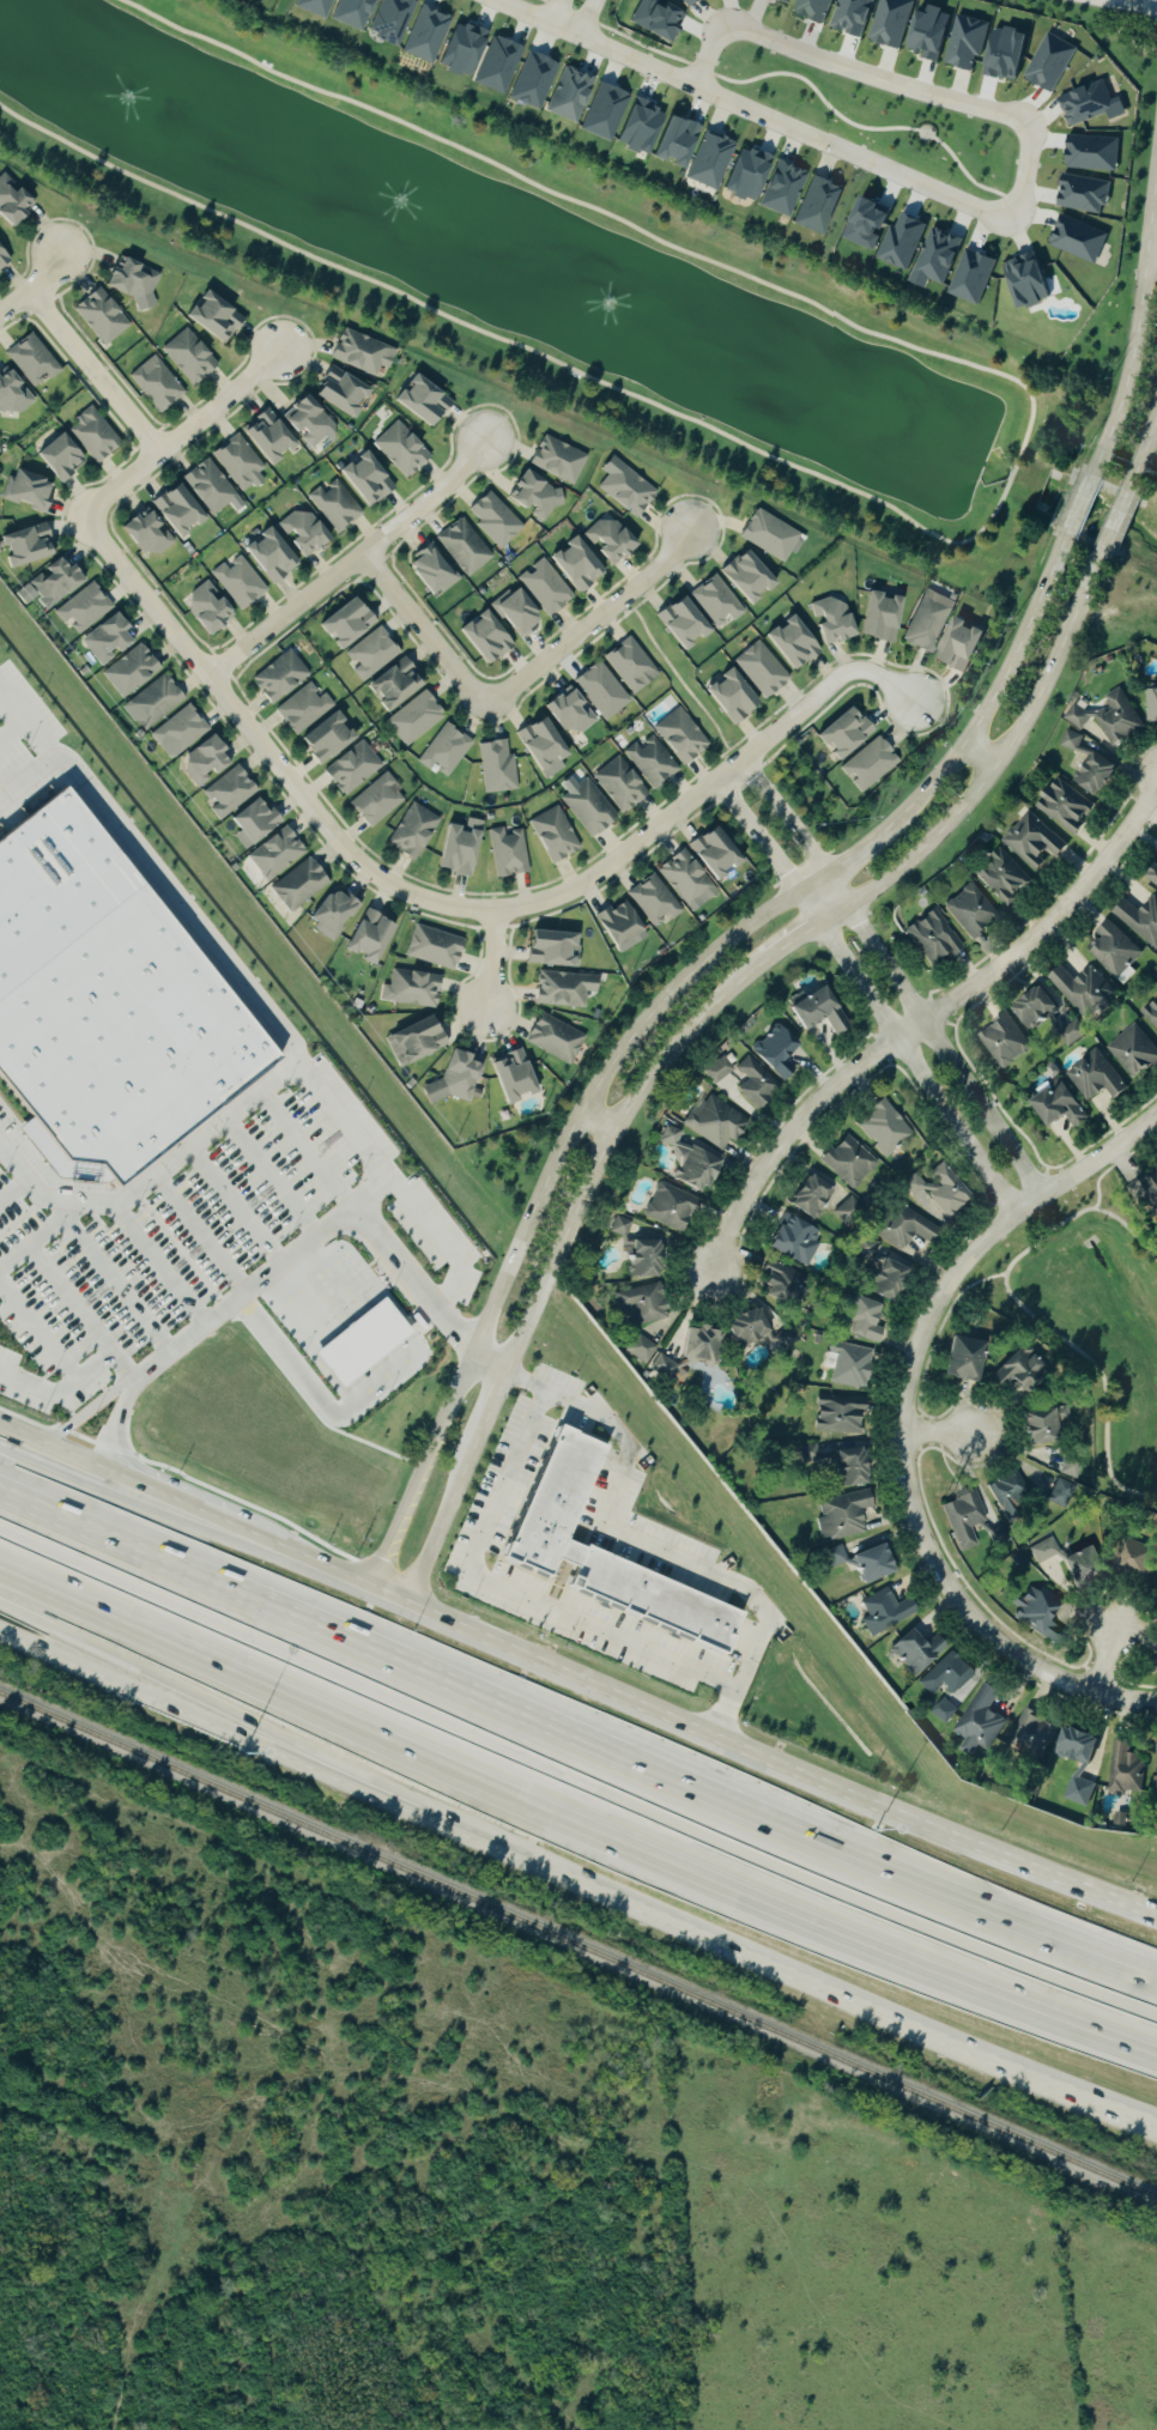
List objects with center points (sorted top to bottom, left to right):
building: (693, 1)
road: (1138, 4)
building: (321, 6)
building: (816, 8)
building: (359, 12)
road: (557, 12)
building: (858, 16)
road: (588, 18)
building: (664, 19)
building: (396, 20)
building: (896, 22)
building: (939, 34)
building: (432, 35)
building: (973, 42)
road: (595, 43)
building: (1013, 55)
building: (489, 57)
building: (1054, 62)
building: (540, 80)
fountain: (128, 90)
building: (577, 95)
building: (1090, 103)
building: (611, 111)
building: (650, 129)
building: (703, 152)
road: (1029, 152)
building: (1094, 152)
building: (773, 182)
building: (1086, 194)
building: (17, 202)
fountain: (399, 202)
building: (824, 205)
building: (873, 224)
building: (1078, 238)
building: (908, 242)
road: (1152, 247)
building: (5, 257)
building: (941, 257)
building: (975, 277)
building: (140, 281)
building: (1035, 281)
road: (32, 286)
fountain: (619, 315)
building: (107, 316)
building: (224, 319)
road: (1135, 320)
building: (368, 352)
building: (194, 357)
building: (38, 360)
road: (95, 371)
building: (162, 384)
building: (349, 392)
building: (16, 394)
building: (434, 402)
road: (1156, 406)
building: (314, 422)
road: (183, 435)
building: (99, 436)
building: (275, 437)
road: (1141, 444)
building: (406, 449)
building: (60, 456)
building: (563, 460)
building: (244, 463)
building: (374, 479)
building: (631, 486)
building: (213, 487)
building: (35, 492)
building: (540, 495)
road: (1079, 503)
road: (999, 504)
building: (339, 505)
building: (186, 510)
building: (499, 520)
road: (1115, 520)
building: (310, 533)
building: (155, 535)
building: (775, 535)
building: (617, 540)
building: (470, 547)
building: (279, 556)
road: (351, 563)
building: (586, 565)
building: (438, 569)
building: (756, 578)
building: (244, 583)
building: (59, 584)
building: (551, 588)
building: (721, 601)
building: (89, 608)
building: (217, 610)
building: (523, 612)
building: (891, 618)
building: (934, 622)
building: (692, 623)
building: (840, 623)
building: (115, 640)
building: (368, 640)
building: (496, 640)
building: (802, 644)
building: (969, 646)
building: (631, 663)
building: (767, 669)
building: (137, 671)
road: (516, 683)
building: (396, 687)
building: (604, 690)
building: (295, 692)
building: (734, 696)
building: (155, 702)
building: (1150, 705)
building: (568, 710)
building: (1110, 717)
building: (414, 719)
building: (177, 731)
building: (841, 732)
road: (13, 734)
building: (679, 735)
building: (323, 738)
building: (1071, 740)
building: (540, 746)
road: (265, 747)
building: (443, 750)
road: (981, 752)
building: (202, 760)
building: (649, 760)
building: (867, 764)
building: (496, 766)
building: (351, 768)
building: (1089, 770)
road: (26, 778)
building: (618, 783)
road: (711, 784)
building: (226, 792)
building: (376, 799)
building: (586, 805)
building: (1061, 806)
road: (787, 816)
building: (250, 822)
building: (412, 830)
building: (552, 834)
road: (759, 836)
building: (1030, 841)
building: (456, 847)
building: (507, 852)
building: (274, 853)
building: (711, 853)
building: (1150, 875)
building: (999, 878)
building: (684, 880)
building: (297, 885)
building: (653, 899)
building: (967, 911)
building: (331, 914)
building: (1139, 920)
building: (619, 927)
building: (367, 937)
building: (928, 938)
building: (432, 946)
building: (550, 949)
building: (1109, 951)
road: (212, 953)
road: (495, 958)
building: (412, 988)
building: (562, 988)
building: (1079, 989)
building: (105, 1004)
building: (1031, 1008)
building: (818, 1010)
road: (658, 1012)
building: (1150, 1013)
road: (921, 1022)
road: (695, 1026)
building: (1070, 1034)
road: (934, 1035)
building: (553, 1037)
building: (413, 1041)
building: (1001, 1042)
building: (776, 1050)
road: (909, 1052)
building: (1132, 1052)
building: (719, 1068)
building: (513, 1075)
building: (1092, 1077)
building: (453, 1079)
building: (756, 1083)
building: (1054, 1105)
building: (503, 1114)
road: (602, 1117)
building: (716, 1122)
building: (882, 1128)
building: (667, 1135)
road: (1, 1143)
road: (189, 1147)
road: (305, 1151)
building: (846, 1162)
building: (687, 1165)
road: (272, 1177)
road: (32, 1180)
building: (937, 1189)
road: (16, 1190)
building: (1149, 1190)
building: (807, 1198)
road: (237, 1206)
building: (670, 1206)
building: (847, 1208)
building: (899, 1226)
road: (37, 1235)
road: (201, 1235)
road: (317, 1238)
building: (788, 1240)
road: (440, 1241)
building: (641, 1259)
road: (163, 1265)
building: (878, 1273)
road: (115, 1284)
building: (777, 1284)
road: (71, 1297)
building: (638, 1304)
building: (858, 1321)
building: (744, 1328)
road: (38, 1329)
building: (781, 1339)
building: (362, 1341)
gas station: (362, 1341)
building: (698, 1346)
building: (637, 1350)
building: (959, 1359)
building: (847, 1365)
road: (491, 1367)
building: (661, 1368)
building: (1017, 1370)
road: (75, 1380)
road: (125, 1387)
building: (836, 1418)
road: (907, 1424)
building: (1038, 1425)
road: (945, 1436)
road: (511, 1443)
road: (68, 1456)
building: (834, 1464)
building: (1068, 1465)
road: (67, 1471)
building: (1005, 1490)
building: (1056, 1491)
building: (553, 1501)
road: (196, 1511)
building: (840, 1515)
building: (961, 1519)
road: (647, 1539)
building: (570, 1552)
building: (1129, 1559)
building: (860, 1562)
building: (1070, 1564)
road: (347, 1574)
building: (1156, 1590)
building: (653, 1595)
building: (883, 1612)
building: (1036, 1616)
road: (586, 1620)
road: (48, 1630)
road: (46, 1641)
building: (913, 1652)
road: (1110, 1659)
building: (1153, 1664)
building: (944, 1675)
building: (941, 1711)
building: (979, 1720)
road: (576, 1734)
building: (1029, 1737)
building: (1073, 1747)
road: (794, 1769)
building: (1123, 1769)
building: (1156, 1769)
building: (1077, 1792)
road: (575, 1798)
road: (624, 1892)
railway: (578, 1943)
railway: (520, 2198)

